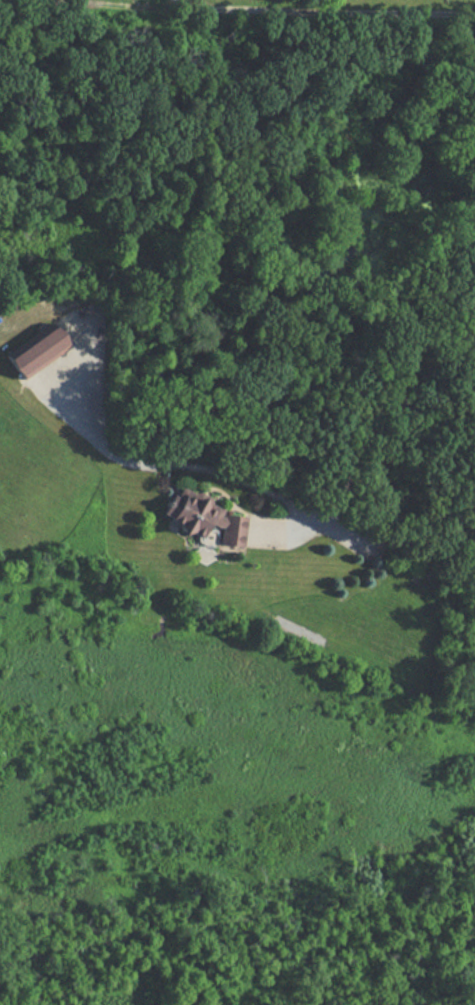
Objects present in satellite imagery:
building: (44, 348)
road: (278, 500)
building: (207, 519)

